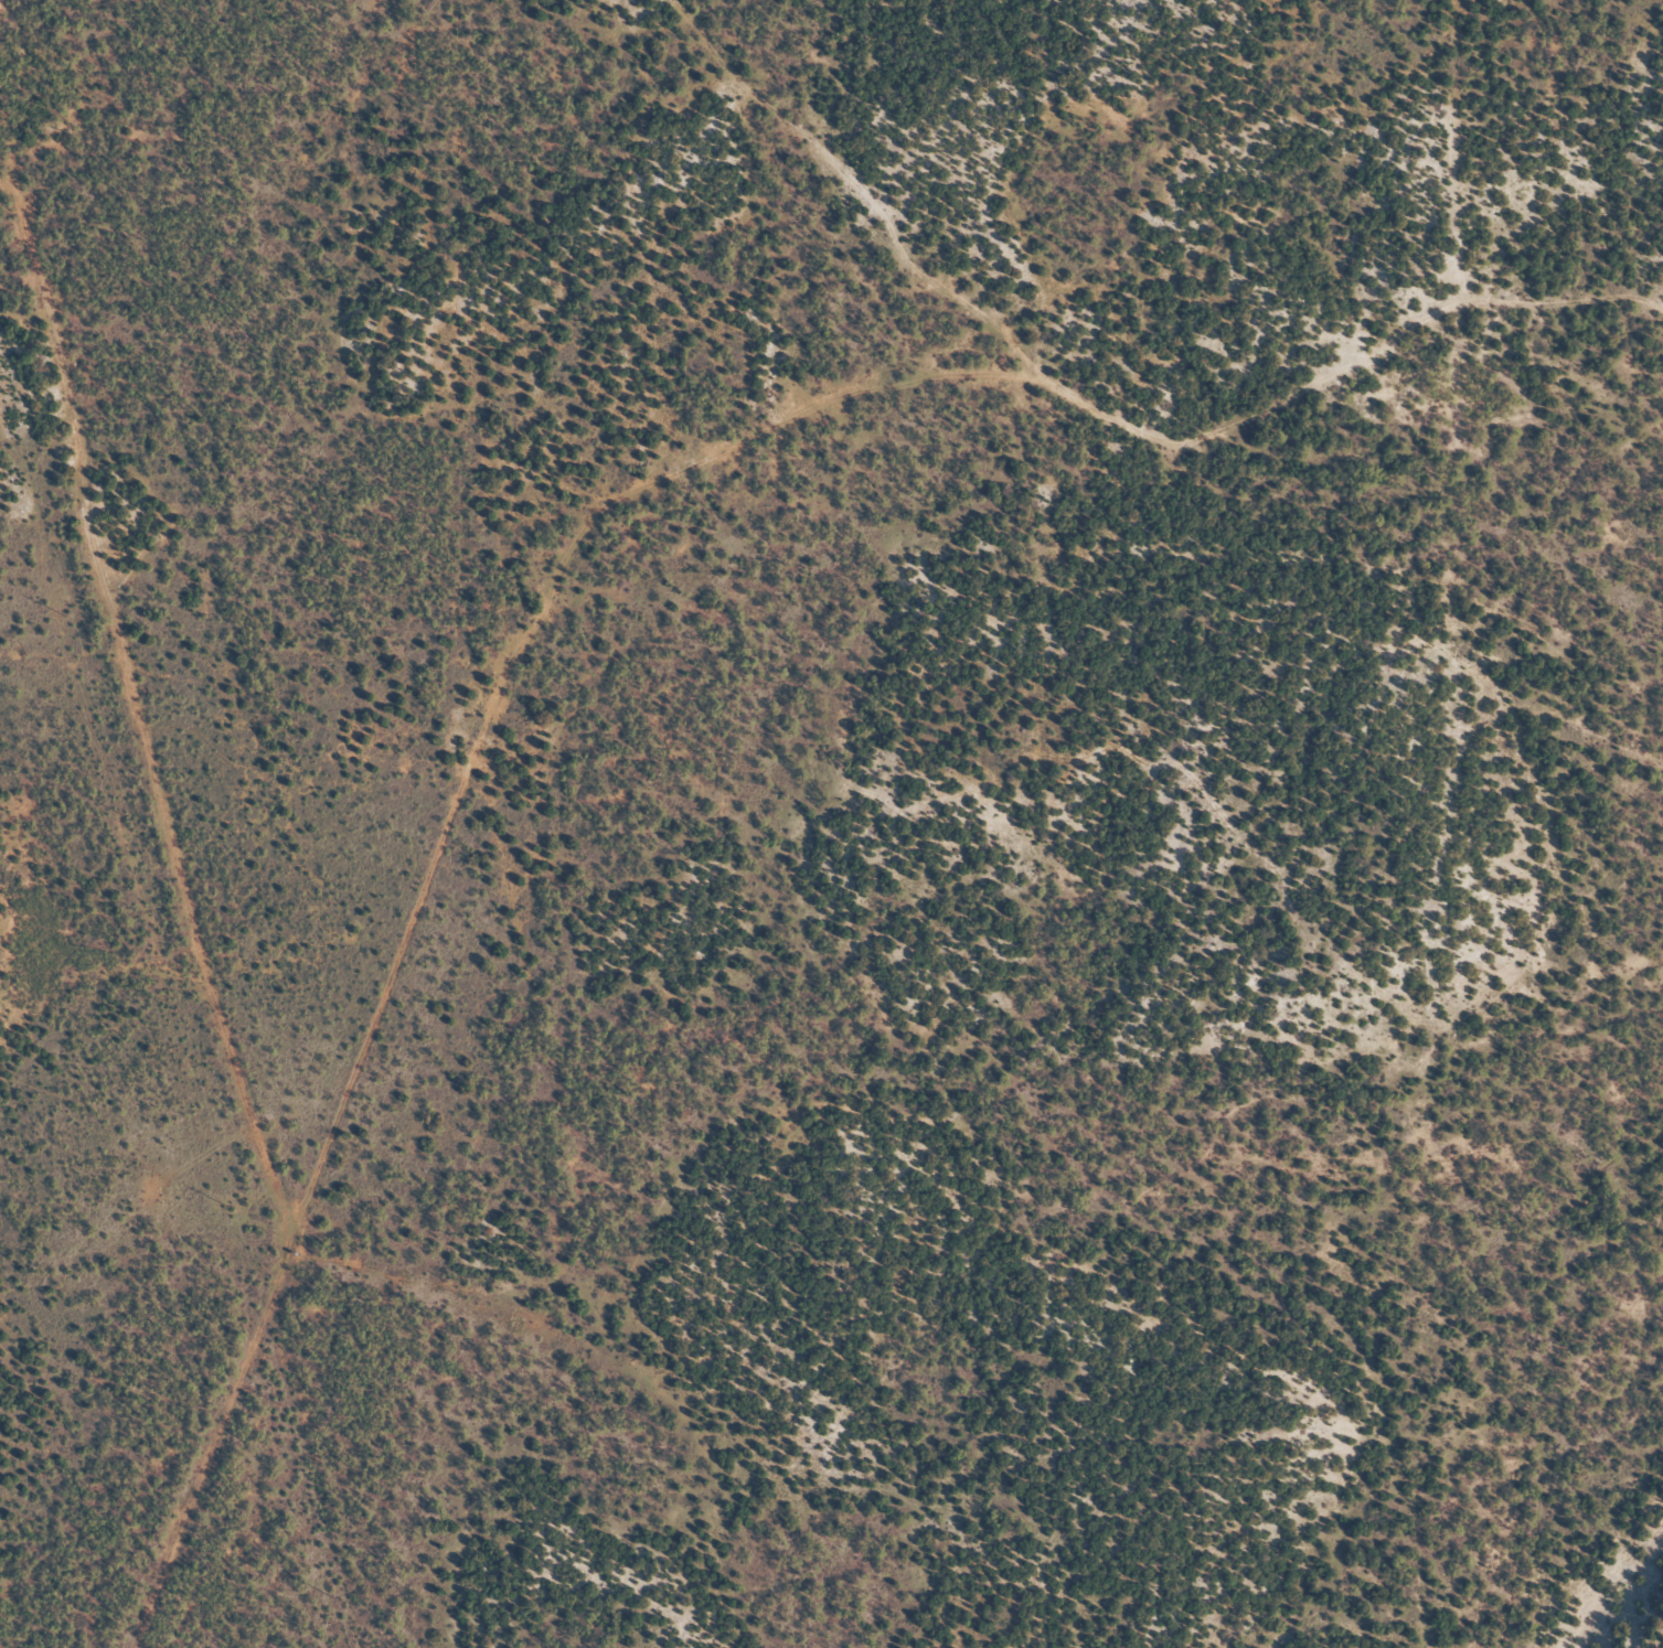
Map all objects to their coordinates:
road: (589, 588)
road: (145, 745)

